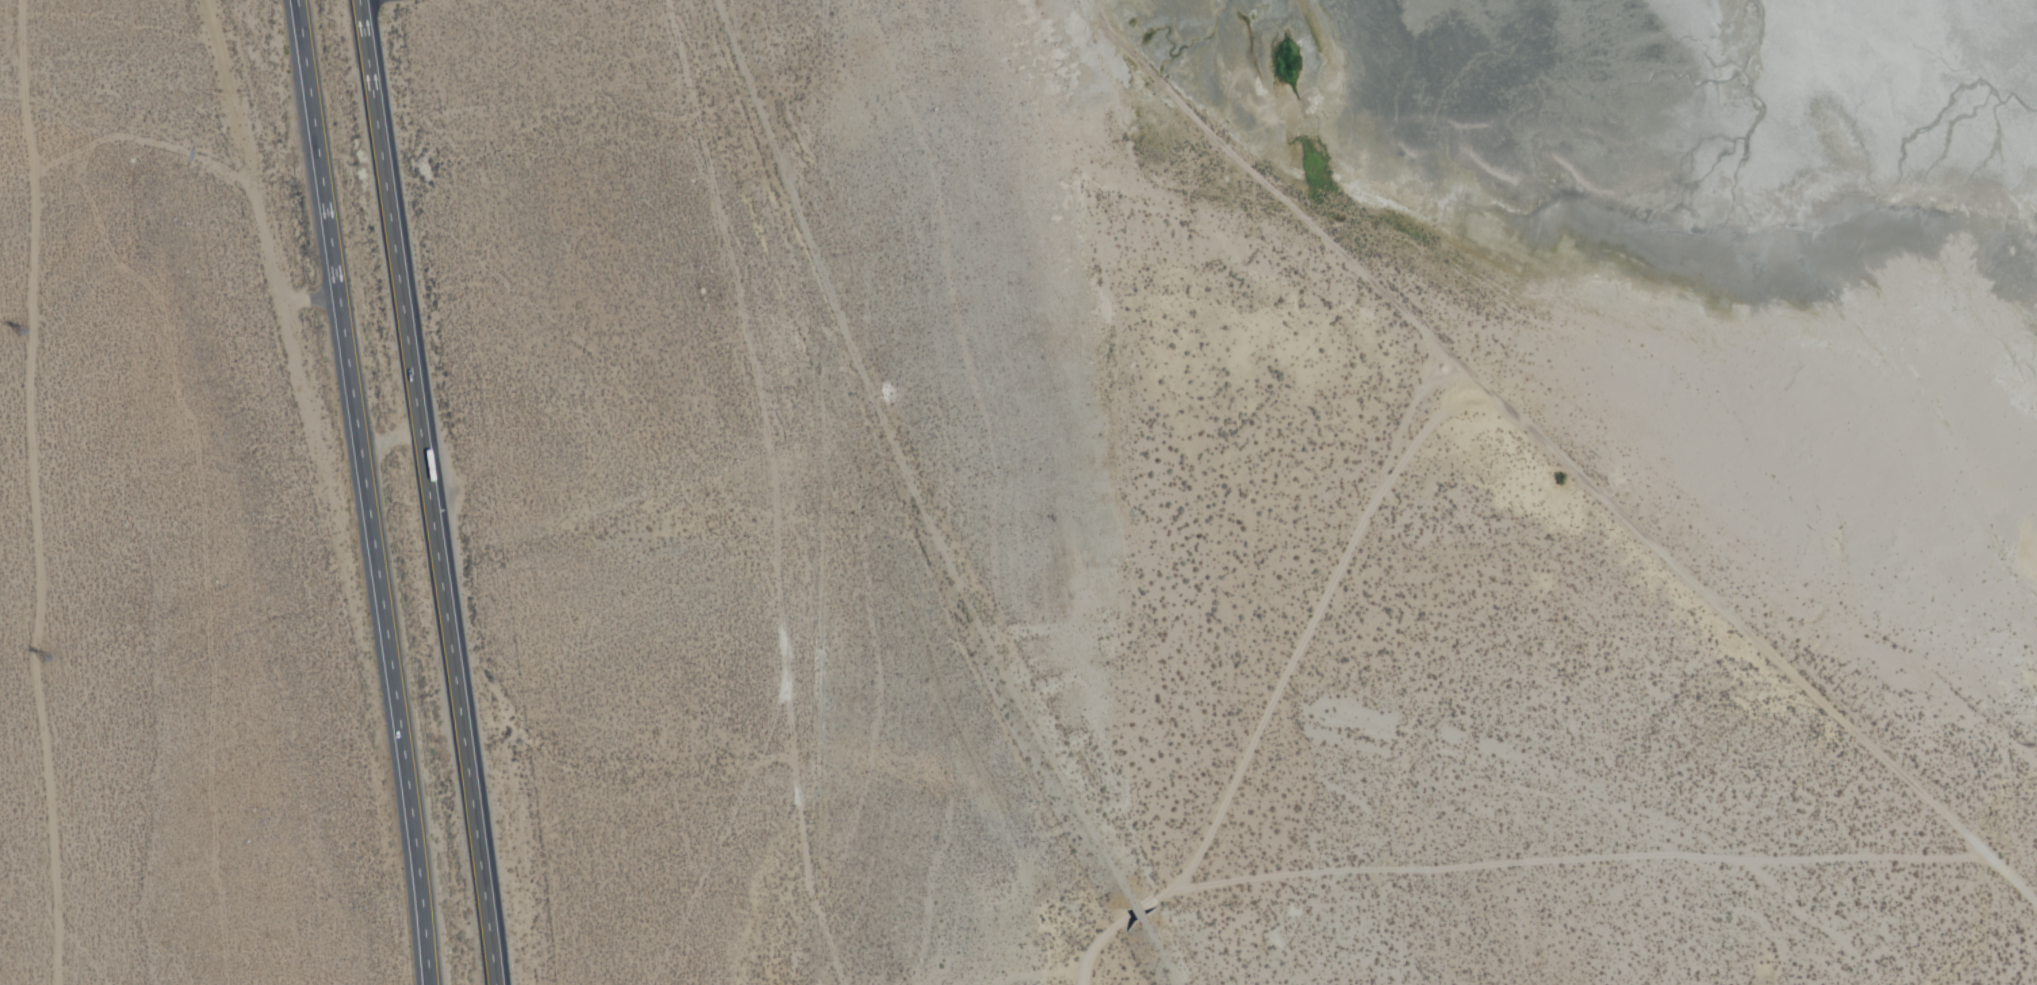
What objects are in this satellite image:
road: (252, 172)
power tower: (21, 334)
road: (1570, 475)
road: (34, 492)
road: (366, 492)
road: (428, 492)
road: (1308, 620)
power tower: (48, 661)
road: (1506, 861)

